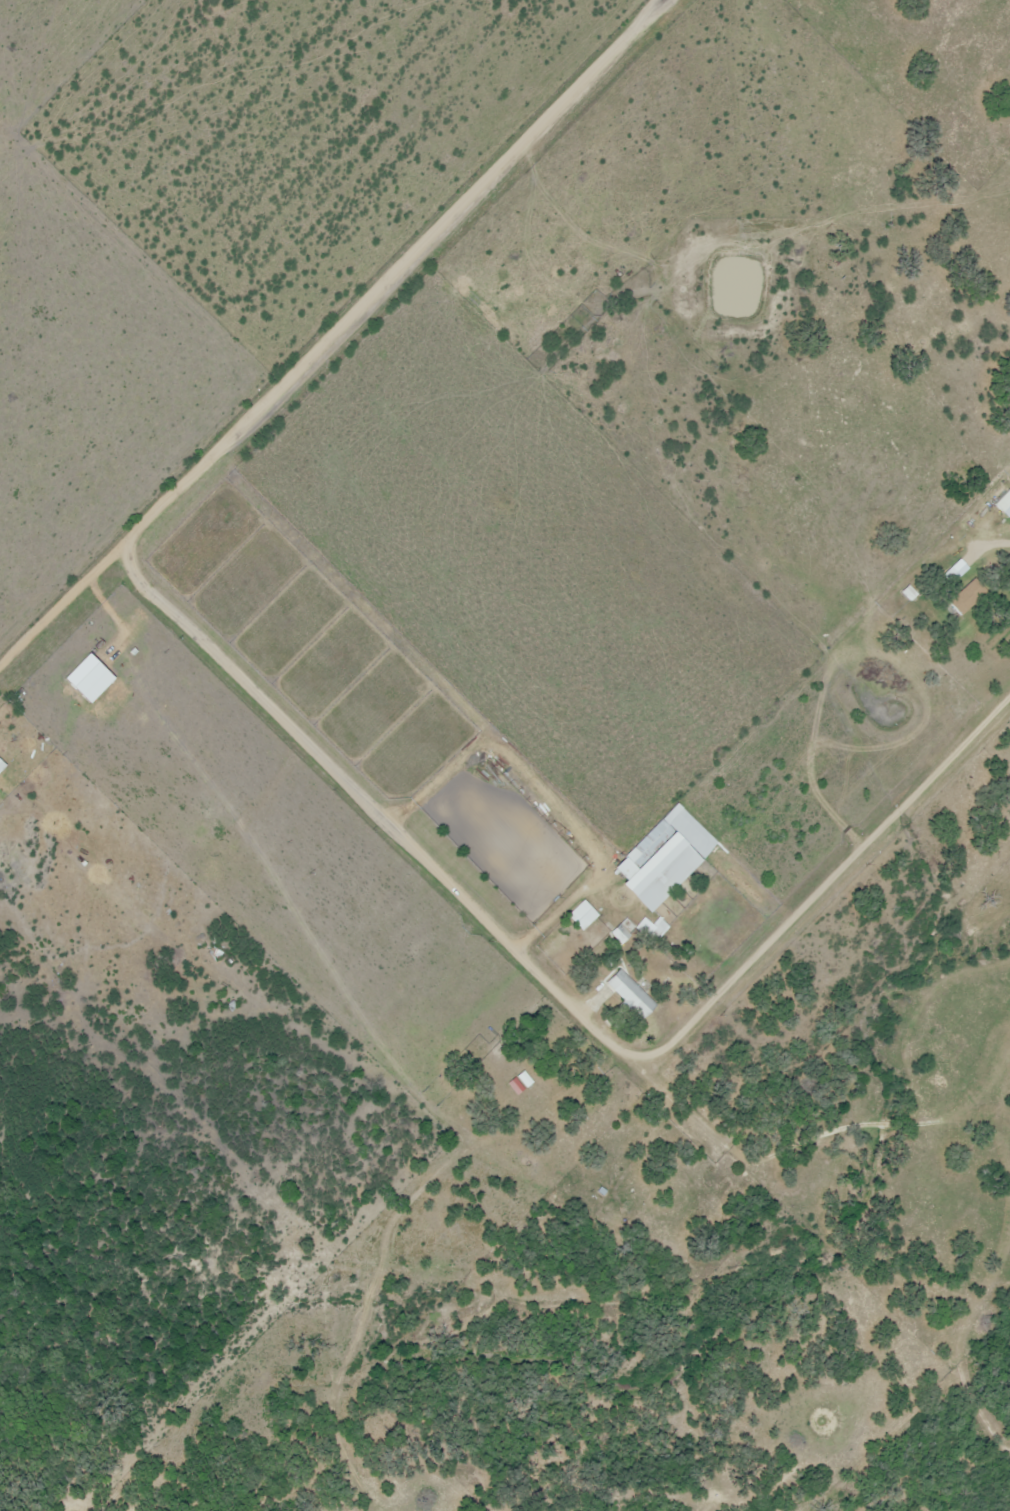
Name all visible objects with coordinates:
road: (330, 336)
building: (1002, 499)
building: (967, 600)
building: (0, 764)
building: (648, 844)
building: (620, 933)
road: (554, 986)
building: (630, 995)

